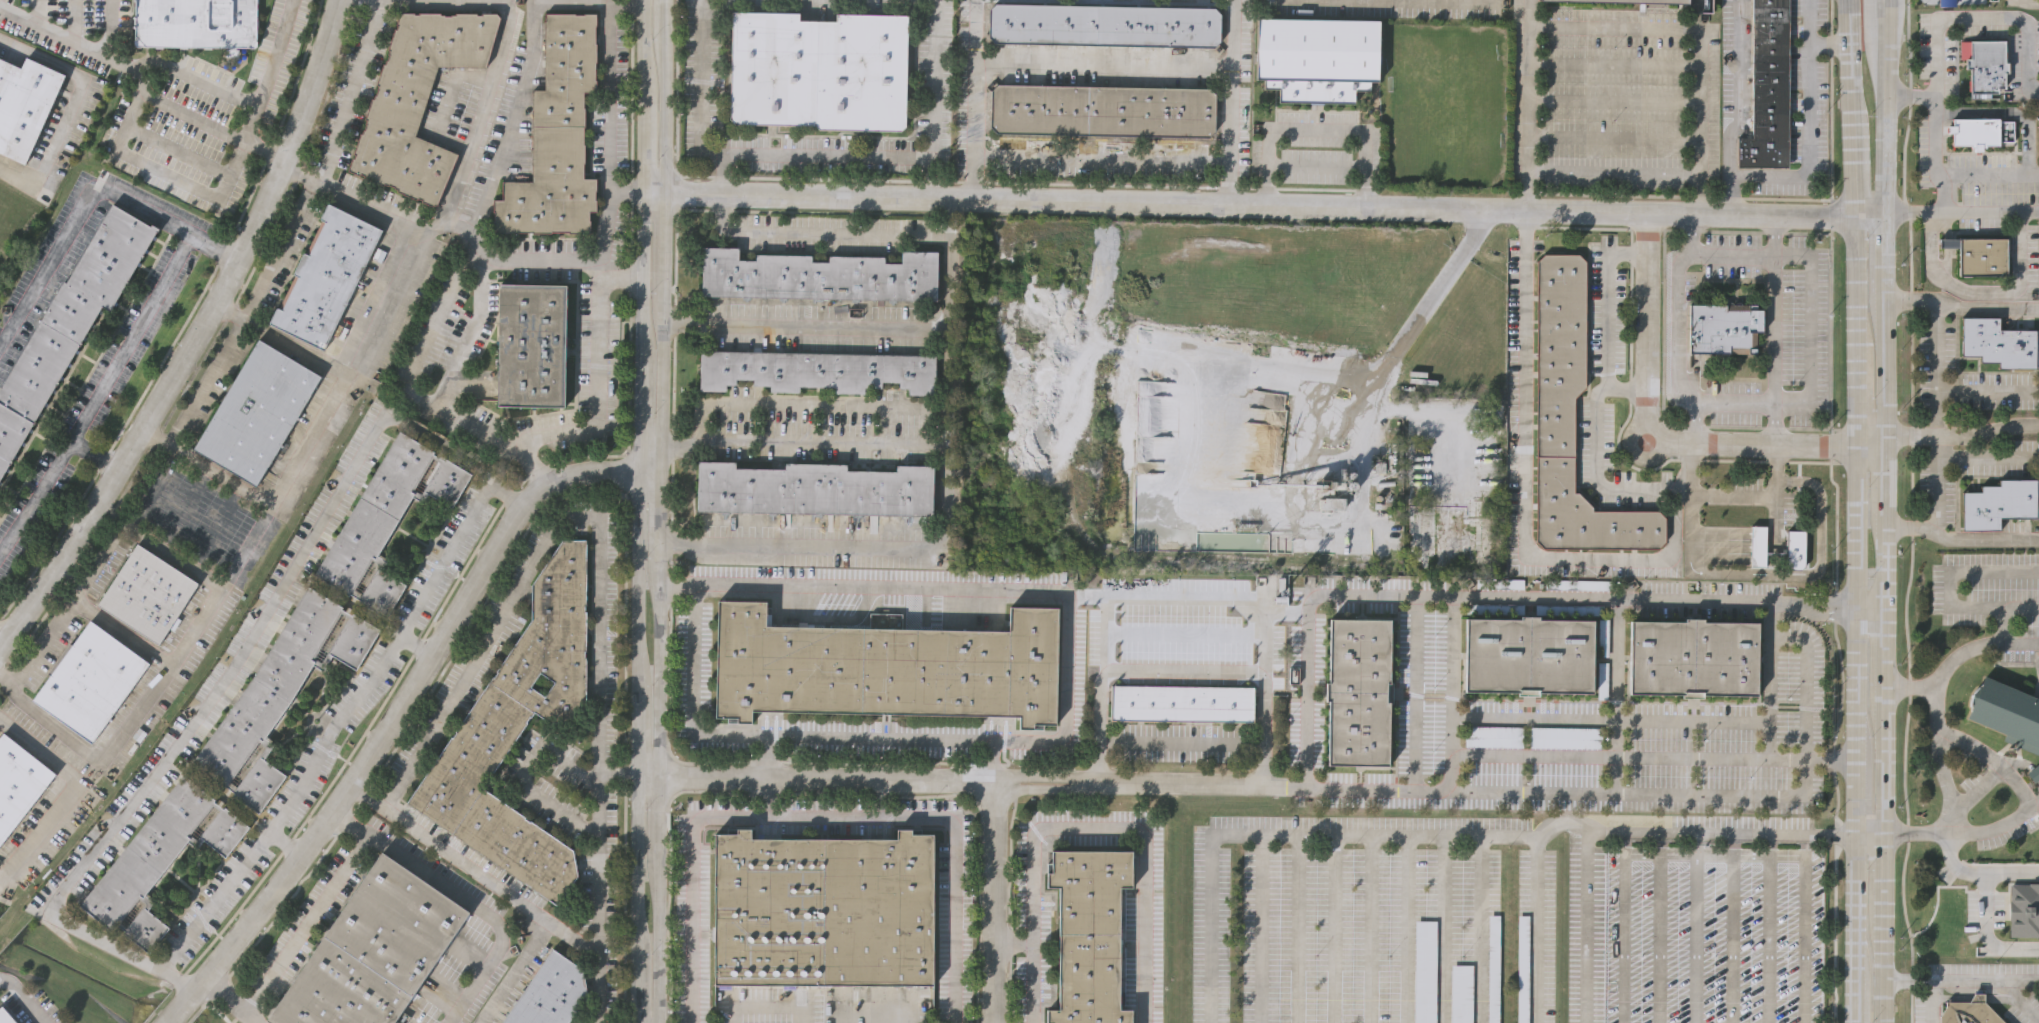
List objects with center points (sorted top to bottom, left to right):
building: (1657, 0)
road: (2030, 2)
road: (617, 4)
road: (540, 5)
road: (1879, 9)
road: (31, 12)
road: (1951, 17)
road: (67, 21)
road: (1810, 22)
building: (196, 23)
building: (1103, 24)
road: (105, 31)
road: (1697, 39)
road: (1880, 40)
road: (1830, 43)
building: (1317, 57)
road: (1105, 63)
building: (1983, 67)
building: (819, 71)
road: (128, 72)
road: (267, 72)
road: (192, 77)
road: (935, 79)
road: (2032, 84)
building: (1766, 88)
road: (697, 89)
road: (348, 91)
road: (443, 97)
road: (974, 99)
building: (417, 101)
road: (1235, 102)
building: (23, 104)
road: (69, 106)
building: (1102, 111)
road: (1316, 130)
building: (1979, 133)
building: (556, 137)
road: (1881, 138)
road: (468, 149)
road: (171, 153)
road: (263, 155)
road: (827, 156)
road: (1104, 159)
road: (1972, 174)
road: (160, 175)
road: (1745, 175)
building: (169, 177)
road: (1938, 193)
road: (1730, 195)
road: (1264, 205)
road: (76, 213)
road: (1960, 213)
road: (949, 218)
road: (1774, 233)
road: (861, 236)
road: (218, 255)
road: (1881, 255)
building: (1981, 255)
road: (562, 259)
road: (598, 266)
building: (327, 275)
building: (818, 276)
road: (1529, 277)
road: (1983, 291)
road: (1959, 305)
road: (229, 310)
road: (1422, 313)
building: (69, 323)
building: (1725, 325)
road: (471, 327)
road: (844, 327)
road: (1774, 327)
road: (236, 332)
road: (196, 336)
road: (125, 339)
building: (1999, 343)
road: (295, 344)
building: (531, 344)
road: (1934, 367)
road: (1880, 369)
road: (599, 370)
building: (817, 370)
road: (412, 387)
road: (1987, 391)
road: (1597, 393)
road: (1786, 403)
road: (896, 404)
building: (258, 410)
building: (1572, 418)
road: (318, 421)
road: (1691, 422)
road: (1775, 423)
road: (1968, 431)
road: (372, 434)
road: (1656, 436)
road: (1890, 439)
road: (683, 444)
road: (90, 456)
road: (1987, 457)
road: (1777, 462)
road: (1690, 467)
road: (1882, 479)
road: (1935, 479)
road: (152, 487)
building: (814, 489)
road: (1734, 492)
road: (32, 493)
road: (506, 497)
building: (1332, 501)
building: (1999, 503)
road: (114, 511)
road: (641, 511)
road: (662, 511)
road: (1860, 511)
building: (387, 519)
road: (1959, 535)
building: (1759, 545)
building: (1797, 547)
road: (1597, 555)
road: (529, 563)
road: (1883, 563)
road: (98, 566)
road: (1785, 574)
road: (67, 582)
building: (1184, 583)
road: (1947, 585)
building: (149, 594)
road: (1635, 608)
road: (1182, 609)
road: (1872, 613)
road: (122, 630)
road: (2, 637)
road: (191, 638)
building: (1182, 638)
road: (2017, 642)
road: (419, 643)
road: (1310, 645)
road: (1885, 649)
building: (1531, 654)
building: (1693, 657)
building: (888, 666)
road: (1183, 666)
road: (1943, 673)
building: (91, 679)
road: (1770, 685)
building: (1359, 690)
road: (407, 695)
road: (1412, 695)
building: (278, 696)
road: (1448, 697)
building: (1183, 701)
road: (1616, 701)
building: (2007, 712)
road: (1063, 717)
road: (1609, 719)
road: (53, 725)
building: (517, 732)
building: (1492, 736)
building: (1563, 737)
road: (1183, 742)
road: (764, 753)
road: (1652, 758)
road: (1885, 759)
road: (992, 760)
building: (2033, 773)
road: (523, 778)
road: (818, 778)
road: (1944, 781)
building: (19, 782)
road: (1224, 788)
road: (73, 789)
road: (1718, 795)
road: (2026, 799)
road: (620, 805)
road: (822, 817)
road: (1616, 822)
road: (1090, 827)
road: (1283, 836)
road: (286, 843)
building: (159, 858)
road: (1954, 860)
road: (1883, 870)
road: (2010, 876)
road: (465, 898)
road: (998, 905)
building: (825, 908)
building: (2025, 910)
road: (307, 922)
road: (1586, 922)
road: (1621, 923)
road: (1658, 924)
road: (1695, 924)
road: (1263, 929)
road: (1302, 930)
road: (1338, 931)
road: (1375, 931)
road: (1411, 932)
road: (1444, 932)
road: (1482, 933)
building: (1089, 934)
road: (1985, 935)
road: (575, 938)
road: (1016, 940)
building: (373, 953)
road: (1881, 965)
building: (1493, 968)
parking lot: (1493, 968)
building: (1523, 969)
parking lot: (1523, 969)
building: (1425, 971)
parking lot: (1425, 971)
road: (1960, 978)
building: (549, 993)
building: (1461, 993)
parking lot: (1461, 993)
road: (27, 998)
road: (233, 1000)
road: (1930, 1000)
road: (178, 1009)
building: (1968, 1013)
building: (7, 1015)

